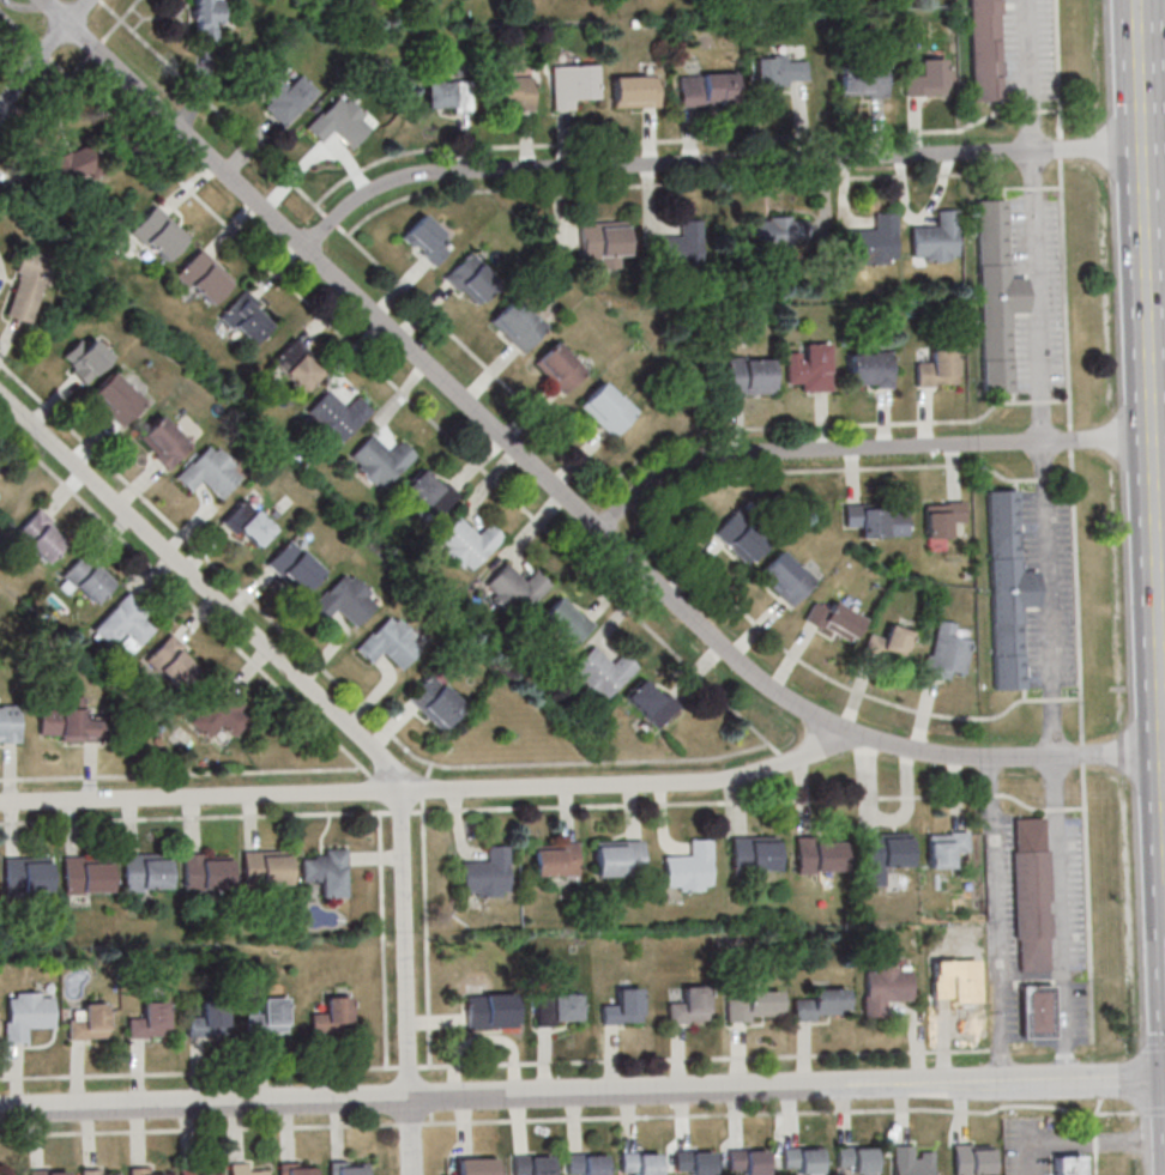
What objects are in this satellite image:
road: (119, 19)
building: (206, 19)
road: (18, 25)
road: (96, 47)
parking lot: (1028, 48)
road: (43, 49)
building: (984, 49)
road: (1001, 53)
road: (40, 56)
road: (1058, 69)
building: (780, 71)
road: (1030, 74)
building: (926, 78)
building: (862, 83)
building: (573, 84)
building: (513, 89)
building: (707, 89)
building: (635, 91)
building: (285, 96)
building: (447, 96)
road: (1051, 109)
road: (1031, 111)
road: (34, 121)
building: (340, 122)
road: (663, 139)
road: (1153, 146)
road: (1061, 147)
road: (712, 160)
building: (73, 164)
road: (666, 183)
road: (1009, 187)
road: (1033, 187)
road: (1052, 187)
building: (158, 234)
building: (779, 235)
building: (936, 238)
building: (427, 240)
building: (604, 241)
building: (875, 241)
building: (677, 250)
building: (203, 277)
building: (471, 279)
building: (25, 286)
road: (1064, 292)
road: (1027, 293)
building: (996, 297)
building: (246, 317)
building: (517, 325)
building: (84, 358)
building: (296, 365)
building: (560, 367)
building: (810, 367)
building: (869, 369)
building: (937, 369)
building: (749, 375)
building: (117, 398)
road: (1151, 402)
road: (417, 405)
building: (608, 408)
building: (337, 416)
road: (543, 420)
road: (833, 425)
road: (1070, 437)
building: (163, 442)
road: (869, 448)
road: (1044, 453)
building: (379, 460)
road: (901, 466)
building: (210, 473)
road: (1064, 477)
road: (1046, 478)
road: (553, 486)
building: (428, 492)
building: (877, 520)
building: (940, 520)
building: (247, 523)
building: (40, 535)
building: (740, 537)
building: (466, 543)
building: (294, 567)
building: (786, 577)
building: (86, 579)
road: (203, 588)
building: (514, 588)
building: (1006, 589)
road: (180, 593)
building: (344, 600)
building: (834, 620)
building: (123, 623)
building: (563, 623)
building: (390, 642)
building: (887, 643)
building: (946, 650)
building: (171, 661)
building: (602, 672)
road: (337, 682)
road: (1072, 697)
road: (1051, 699)
building: (650, 701)
building: (434, 702)
building: (221, 713)
building: (67, 722)
building: (10, 723)
road: (1083, 744)
road: (785, 757)
road: (180, 773)
road: (429, 787)
road: (387, 793)
road: (740, 800)
road: (195, 817)
building: (943, 848)
building: (753, 854)
building: (819, 855)
building: (883, 855)
building: (617, 858)
building: (555, 860)
building: (262, 867)
building: (689, 867)
building: (144, 870)
building: (204, 870)
building: (326, 871)
building: (25, 874)
building: (84, 874)
building: (487, 874)
building: (1032, 895)
road: (427, 913)
road: (1061, 915)
road: (996, 916)
road: (384, 939)
road: (406, 941)
building: (886, 991)
building: (953, 993)
building: (688, 1006)
building: (819, 1006)
building: (622, 1007)
building: (753, 1007)
building: (557, 1009)
building: (490, 1011)
building: (1037, 1011)
building: (25, 1015)
building: (268, 1017)
building: (331, 1017)
building: (149, 1020)
building: (207, 1022)
building: (87, 1023)
road: (996, 1048)
road: (704, 1058)
road: (408, 1066)
road: (199, 1072)
road: (786, 1084)
road: (1106, 1086)
road: (205, 1102)
road: (1149, 1110)
road: (780, 1113)
road: (410, 1123)
road: (199, 1128)
road: (1094, 1134)
road: (411, 1135)
road: (1082, 1144)
building: (802, 1158)
building: (856, 1158)
building: (748, 1159)
building: (972, 1159)
building: (693, 1161)
building: (911, 1161)
building: (640, 1162)
building: (585, 1163)
building: (476, 1164)
building: (531, 1164)
building: (1069, 1164)
building: (346, 1168)
building: (243, 1169)
building: (296, 1169)
building: (140, 1170)
building: (48, 1171)
building: (89, 1171)
building: (195, 1171)
building: (7, 1174)
building: (109, 1174)

